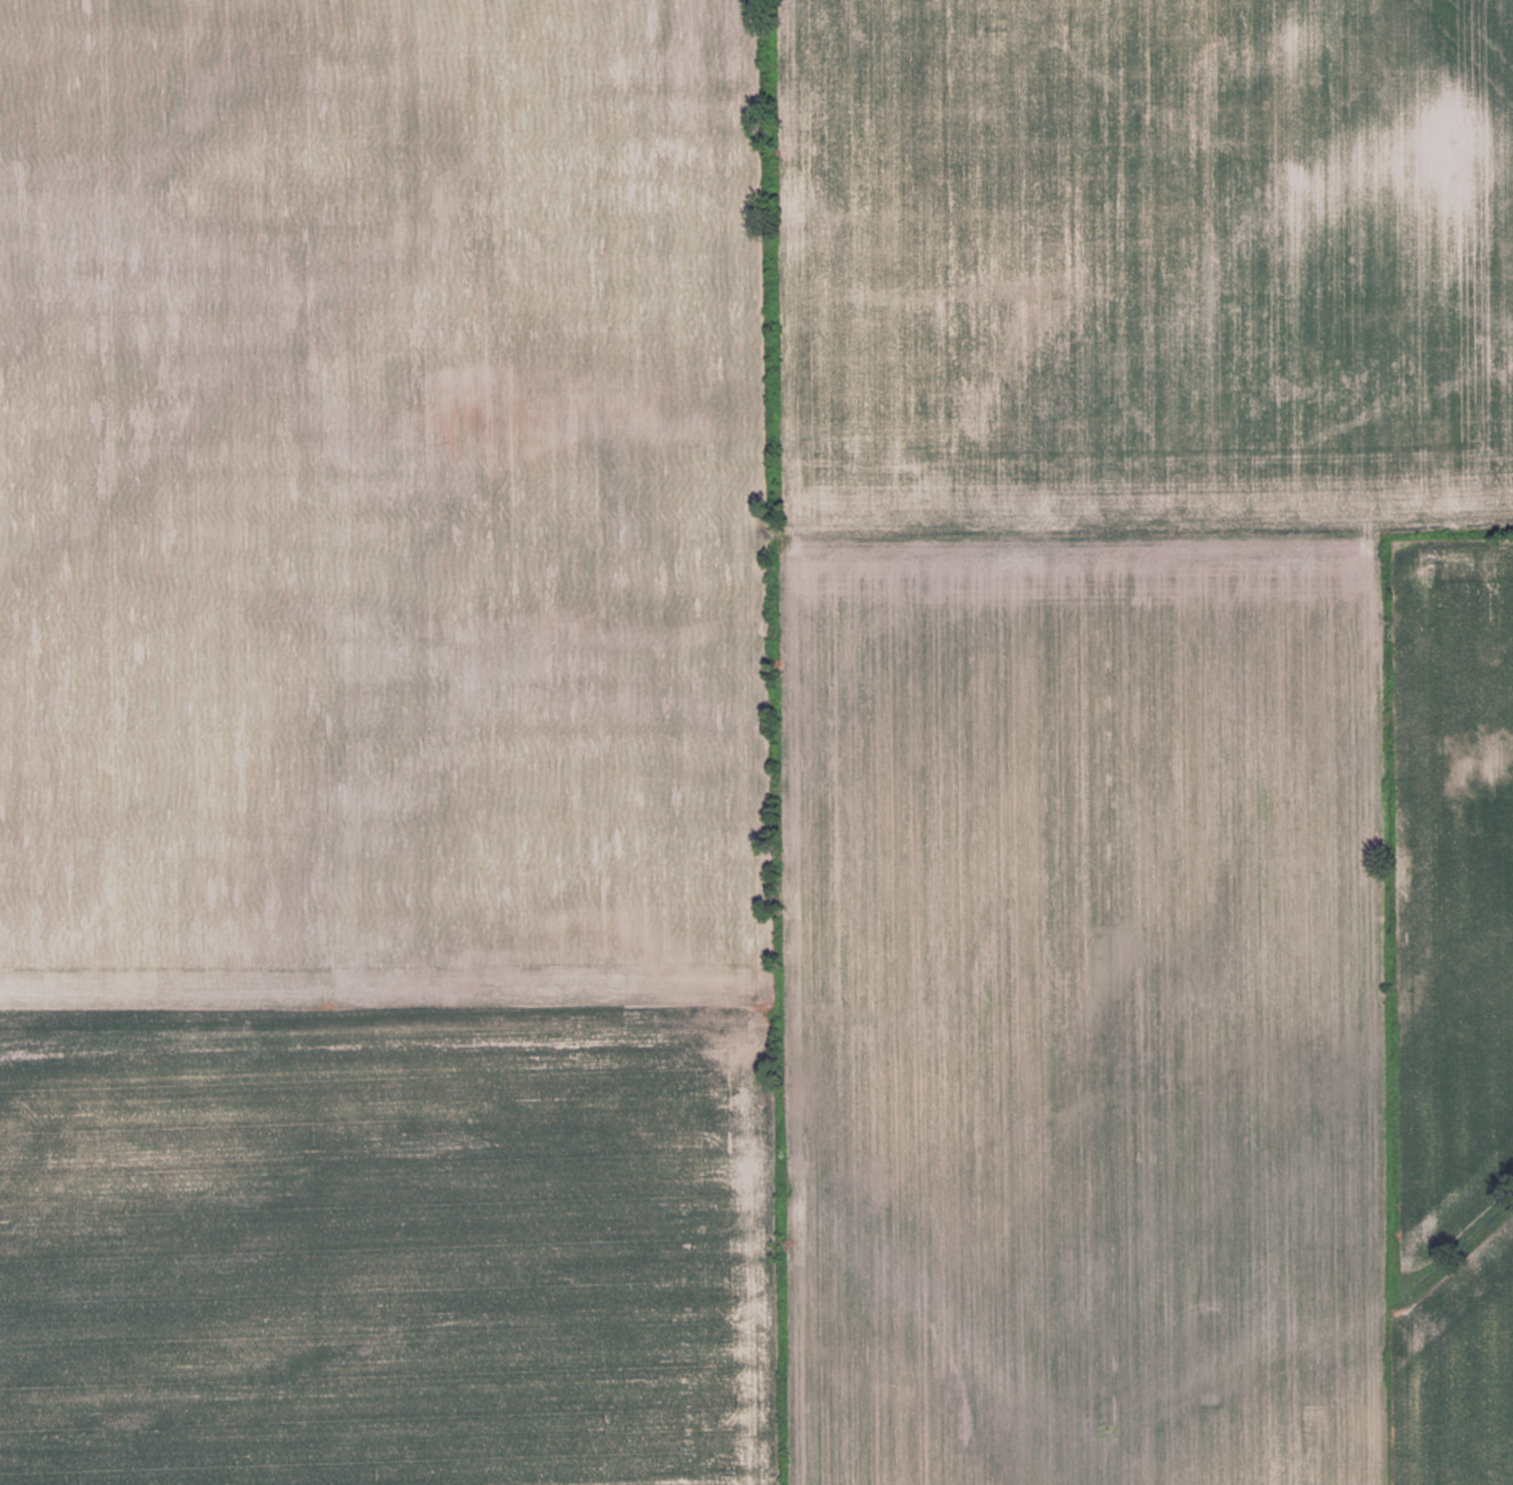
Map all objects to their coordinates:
building: (1144, 83)
building: (1167, 276)

